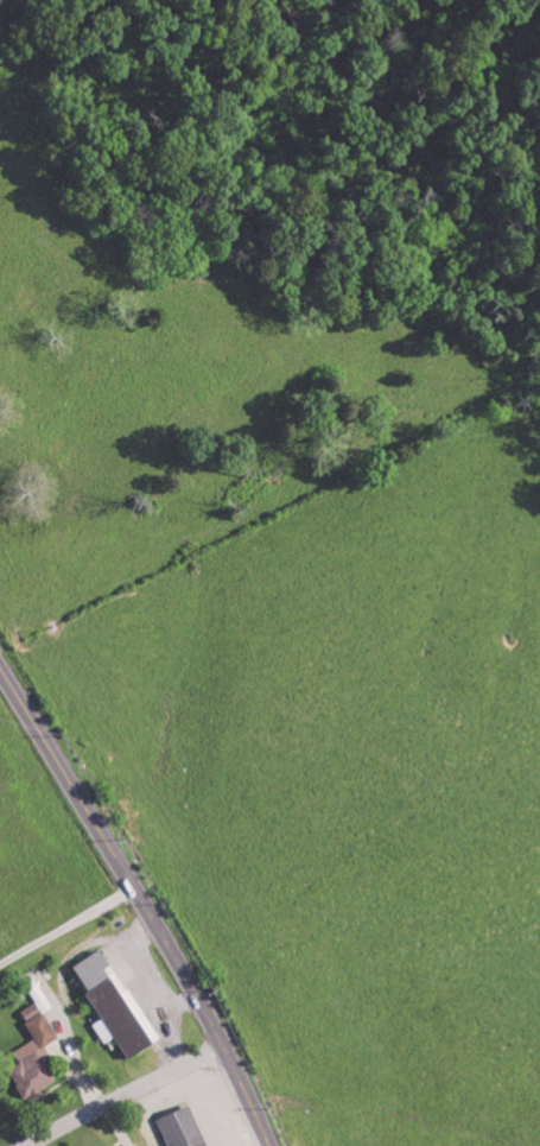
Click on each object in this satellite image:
road: (28, 716)
road: (70, 783)
road: (70, 923)
road: (185, 968)
building: (115, 1001)
building: (34, 1052)
road: (128, 1094)
building: (185, 1127)

